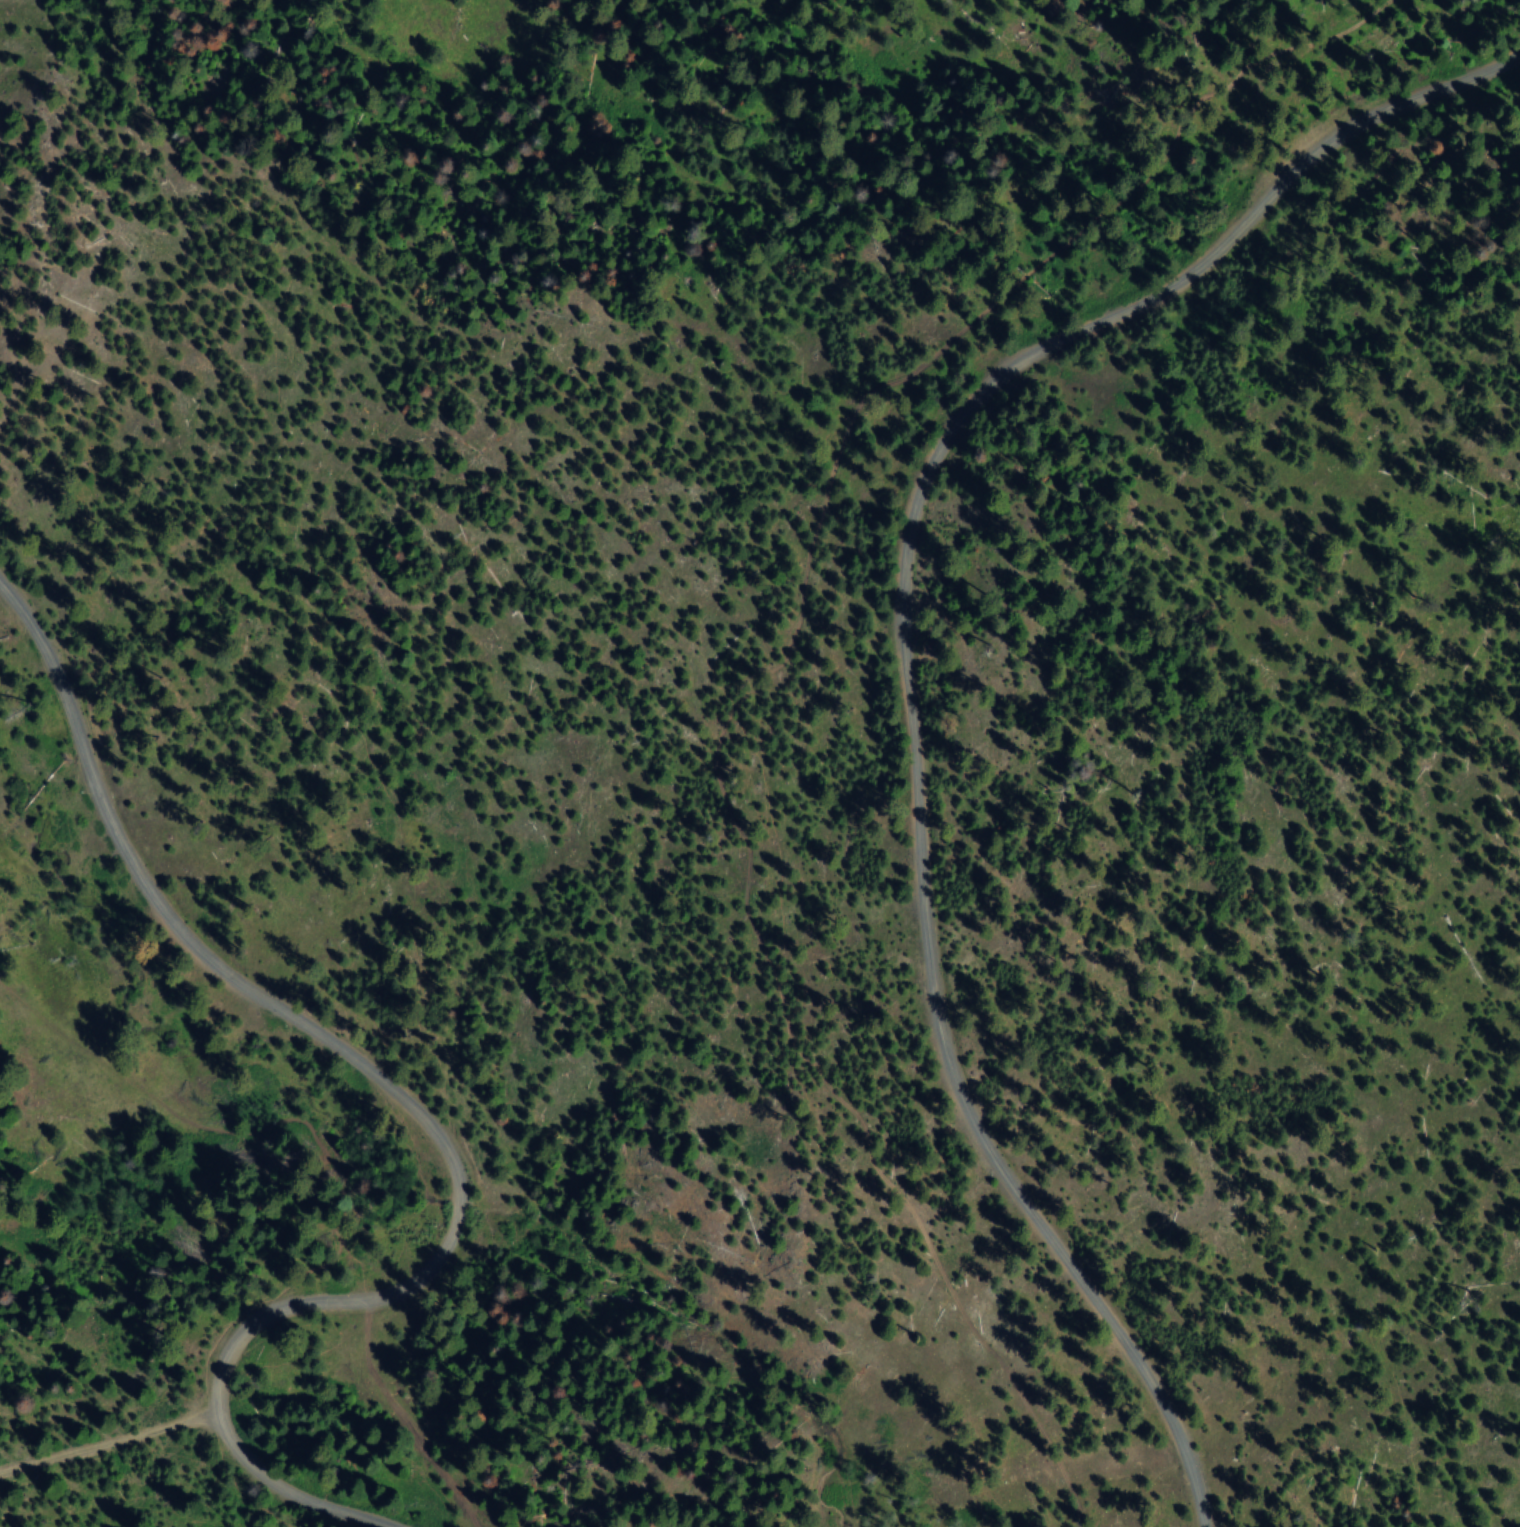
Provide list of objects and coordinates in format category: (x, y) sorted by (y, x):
road: (974, 702)
road: (406, 1107)
road: (107, 1443)

